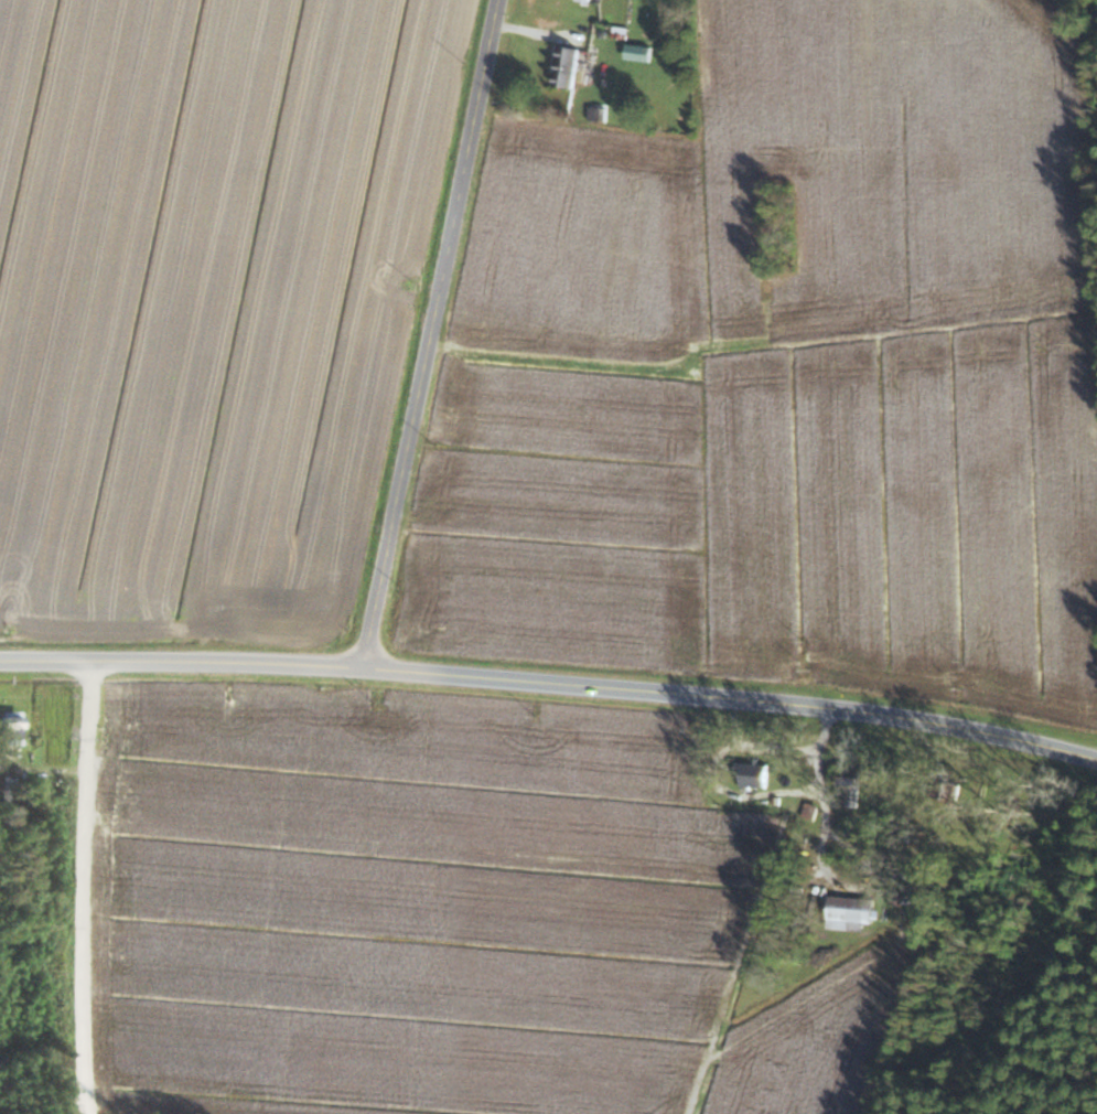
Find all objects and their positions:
building: (568, 66)
road: (423, 333)
road: (551, 681)
building: (11, 728)
building: (755, 775)
building: (6, 793)
building: (851, 912)

